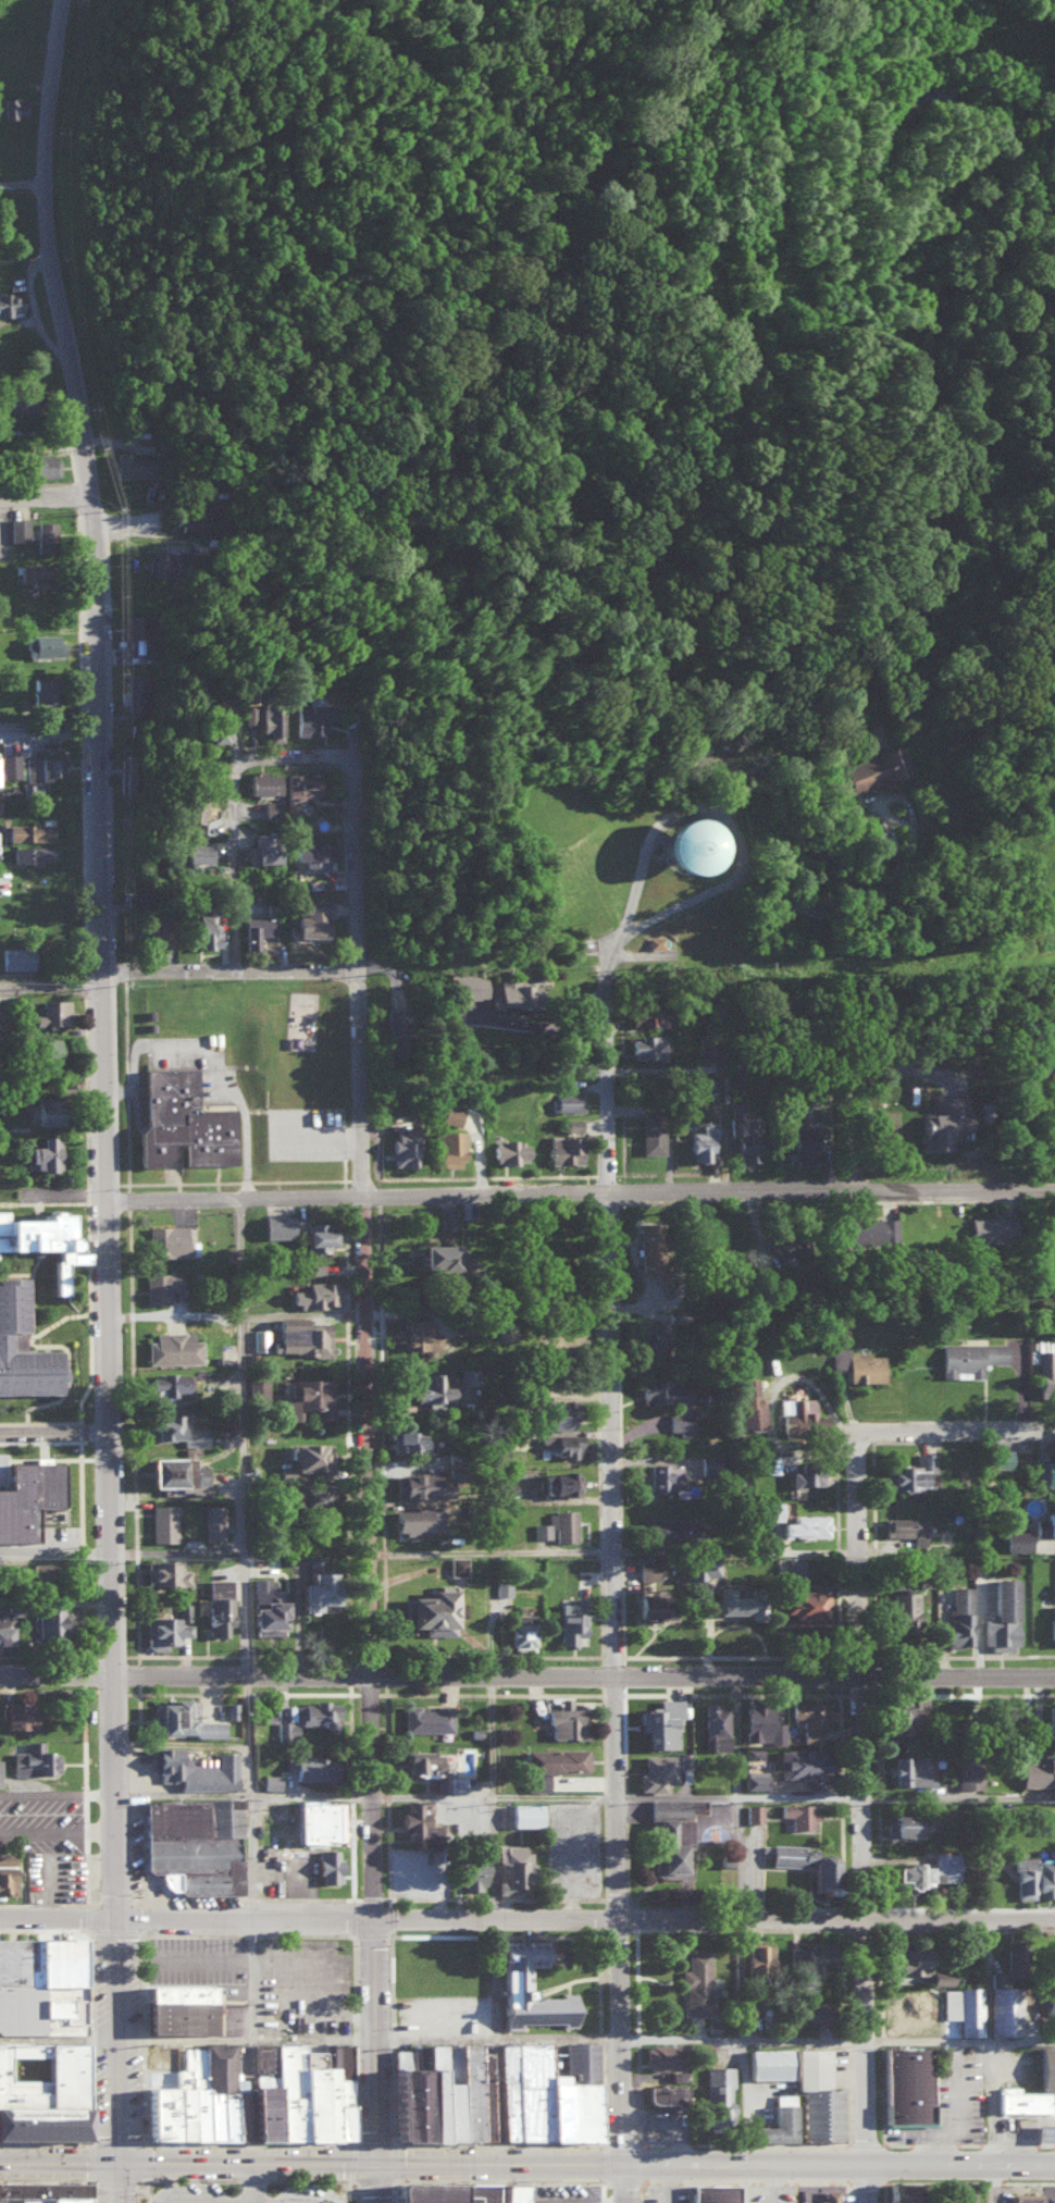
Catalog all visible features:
building: (11, 106)
road: (20, 181)
building: (9, 302)
building: (12, 405)
building: (41, 465)
building: (135, 466)
road: (49, 502)
building: (199, 521)
building: (17, 529)
building: (44, 536)
building: (165, 562)
building: (30, 572)
building: (142, 628)
building: (41, 644)
building: (141, 644)
building: (41, 690)
building: (141, 690)
building: (250, 714)
building: (310, 716)
building: (271, 721)
building: (219, 726)
road: (52, 738)
road: (351, 740)
building: (9, 765)
building: (44, 767)
building: (869, 770)
building: (127, 782)
building: (262, 782)
building: (299, 789)
road: (232, 807)
building: (270, 808)
building: (190, 809)
building: (28, 831)
road: (107, 833)
water tower: (687, 842)
building: (680, 845)
building: (262, 847)
building: (194, 852)
building: (32, 853)
building: (315, 853)
building: (136, 900)
road: (854, 909)
building: (311, 918)
building: (256, 929)
building: (161, 930)
building: (208, 931)
building: (654, 941)
building: (16, 957)
road: (233, 970)
building: (469, 987)
road: (54, 992)
building: (510, 993)
road: (1051, 1005)
building: (50, 1012)
building: (642, 1014)
building: (398, 1032)
building: (647, 1047)
building: (707, 1049)
building: (42, 1050)
road: (207, 1060)
building: (1047, 1080)
building: (567, 1099)
building: (42, 1112)
road: (612, 1112)
building: (452, 1113)
building: (943, 1118)
building: (181, 1121)
building: (572, 1123)
building: (651, 1131)
building: (744, 1131)
building: (702, 1140)
building: (803, 1140)
building: (405, 1146)
building: (448, 1146)
building: (563, 1147)
building: (508, 1150)
building: (44, 1153)
road: (546, 1193)
building: (447, 1217)
building: (276, 1224)
building: (710, 1226)
building: (868, 1227)
building: (989, 1227)
building: (39, 1235)
building: (316, 1235)
building: (166, 1239)
building: (1045, 1239)
building: (785, 1242)
building: (647, 1245)
building: (432, 1253)
building: (461, 1261)
building: (311, 1267)
building: (160, 1284)
building: (1042, 1287)
building: (314, 1292)
building: (468, 1326)
building: (415, 1333)
building: (649, 1334)
building: (299, 1335)
road: (370, 1336)
building: (259, 1337)
building: (21, 1346)
building: (172, 1347)
building: (839, 1357)
building: (968, 1357)
building: (866, 1365)
building: (1045, 1365)
building: (467, 1374)
building: (169, 1381)
building: (258, 1386)
building: (432, 1388)
building: (307, 1397)
building: (669, 1400)
building: (749, 1403)
building: (799, 1411)
building: (562, 1412)
building: (174, 1428)
road: (55, 1431)
road: (961, 1432)
building: (407, 1440)
building: (561, 1443)
building: (308, 1453)
building: (1000, 1457)
building: (708, 1459)
building: (769, 1463)
building: (1044, 1468)
building: (174, 1471)
building: (908, 1471)
building: (806, 1473)
building: (663, 1474)
building: (558, 1481)
building: (504, 1483)
building: (418, 1484)
building: (306, 1494)
building: (28, 1495)
building: (769, 1509)
building: (415, 1518)
building: (162, 1521)
building: (212, 1521)
building: (1045, 1523)
building: (556, 1524)
building: (805, 1524)
building: (669, 1526)
building: (905, 1527)
building: (1017, 1539)
road: (746, 1549)
road: (57, 1551)
road: (177, 1552)
road: (496, 1552)
building: (456, 1563)
building: (709, 1564)
building: (793, 1565)
building: (647, 1569)
building: (29, 1571)
building: (164, 1572)
building: (313, 1584)
building: (501, 1585)
building: (1053, 1591)
building: (737, 1600)
building: (803, 1602)
building: (218, 1604)
building: (653, 1606)
building: (265, 1607)
building: (183, 1610)
building: (433, 1610)
building: (903, 1610)
building: (958, 1614)
building: (1001, 1614)
building: (48, 1619)
building: (571, 1619)
building: (1052, 1622)
building: (521, 1628)
building: (3, 1630)
building: (163, 1630)
road: (384, 1654)
road: (54, 1675)
road: (368, 1676)
road: (841, 1678)
road: (247, 1683)
road: (137, 1688)
road: (165, 1692)
road: (247, 1692)
road: (300, 1692)
road: (447, 1693)
road: (470, 1693)
road: (489, 1693)
road: (596, 1693)
building: (189, 1708)
building: (1011, 1711)
building: (16, 1712)
building: (314, 1712)
building: (810, 1712)
building: (904, 1713)
building: (171, 1715)
road: (385, 1715)
building: (426, 1717)
building: (1051, 1719)
building: (566, 1720)
building: (756, 1720)
building: (659, 1721)
building: (715, 1725)
building: (207, 1728)
building: (285, 1728)
building: (777, 1732)
building: (810, 1734)
road: (349, 1740)
building: (553, 1758)
building: (684, 1758)
building: (33, 1759)
building: (420, 1760)
building: (802, 1761)
road: (85, 1766)
building: (309, 1766)
building: (195, 1769)
building: (908, 1769)
building: (1038, 1770)
building: (656, 1771)
building: (967, 1771)
building: (754, 1778)
building: (269, 1780)
building: (536, 1780)
building: (449, 1783)
road: (351, 1794)
road: (386, 1795)
road: (603, 1795)
road: (112, 1796)
road: (841, 1797)
road: (752, 1798)
building: (753, 1812)
building: (797, 1812)
building: (524, 1814)
building: (311, 1819)
road: (872, 1819)
building: (1045, 1819)
building: (418, 1822)
building: (907, 1823)
building: (193, 1843)
building: (669, 1846)
road: (387, 1848)
building: (5, 1856)
building: (805, 1860)
road: (604, 1862)
building: (327, 1865)
building: (512, 1867)
building: (929, 1869)
building: (471, 1872)
building: (1023, 1877)
building: (1045, 1877)
building: (5, 1878)
road: (87, 1897)
road: (349, 1897)
road: (438, 1897)
road: (494, 1897)
road: (531, 1897)
road: (570, 1897)
road: (13, 1903)
road: (42, 1903)
road: (57, 1918)
road: (433, 1920)
road: (904, 1920)
road: (189, 1933)
road: (87, 1934)
road: (248, 1934)
road: (351, 1934)
road: (389, 1934)
road: (390, 1934)
road: (494, 1934)
road: (551, 1934)
road: (496, 1939)
road: (630, 1940)
building: (1053, 1957)
building: (757, 1958)
building: (805, 1958)
building: (906, 1958)
building: (940, 1975)
building: (38, 1981)
road: (597, 1981)
building: (696, 1982)
building: (527, 1987)
building: (1006, 1993)
building: (1048, 1998)
building: (177, 2007)
building: (964, 2007)
building: (914, 2008)
road: (141, 2035)
road: (598, 2035)
road: (89, 2038)
road: (355, 2038)
road: (390, 2038)
road: (563, 2038)
road: (965, 2039)
road: (116, 2041)
road: (753, 2041)
road: (373, 2042)
building: (661, 2055)
building: (310, 2056)
building: (579, 2060)
building: (767, 2062)
building: (1046, 2067)
building: (677, 2075)
building: (906, 2083)
building: (40, 2090)
building: (665, 2091)
building: (299, 2092)
building: (436, 2092)
road: (392, 2093)
building: (717, 2093)
building: (817, 2094)
building: (196, 2097)
building: (539, 2097)
building: (1022, 2099)
building: (775, 2120)
building: (1043, 2131)
road: (90, 2139)
road: (92, 2140)
road: (440, 2141)
road: (299, 2142)
road: (495, 2142)
road: (600, 2142)
road: (393, 2143)
road: (556, 2162)
road: (677, 2163)
road: (888, 2163)
road: (59, 2164)
traffic signals: (119, 2164)
road: (184, 2164)
road: (272, 2165)
road: (334, 2165)
road: (427, 2165)
road: (46, 2180)
road: (564, 2180)
road: (251, 2181)
road: (442, 2181)
road: (496, 2181)
road: (642, 2181)
road: (993, 2182)
road: (119, 2183)
road: (374, 2183)
road: (139, 2185)
road: (145, 2186)
road: (347, 2188)
building: (44, 2191)
building: (439, 2191)
road: (91, 2192)
road: (344, 2192)
road: (394, 2192)
building: (510, 2192)
building: (896, 2192)
building: (712, 2193)
building: (827, 2196)
building: (959, 2196)
building: (1022, 2196)
road: (156, 2198)
building: (1047, 2198)
road: (241, 2199)
road: (337, 2199)

